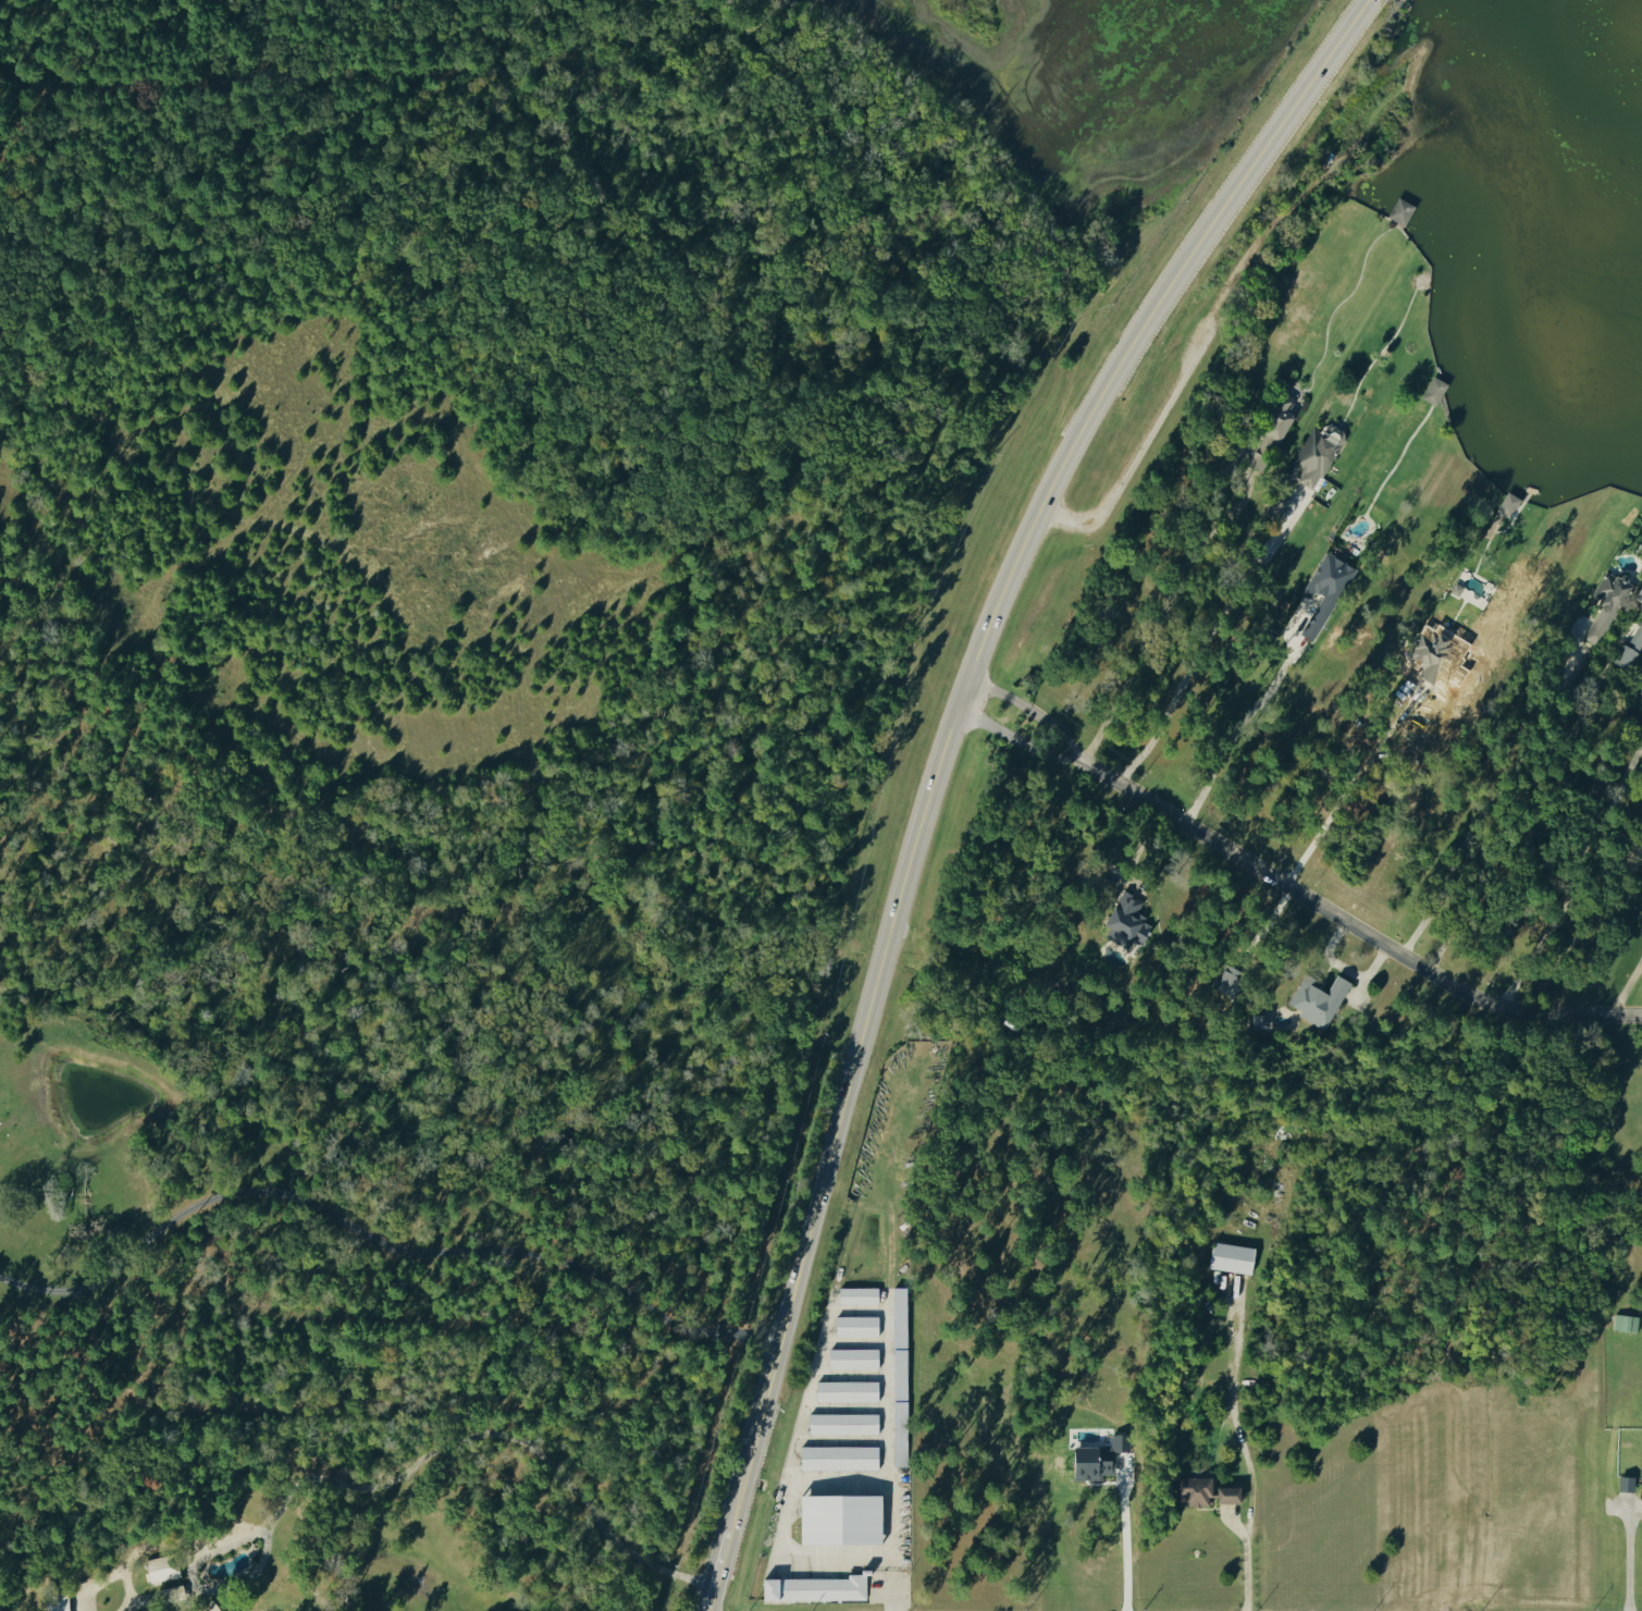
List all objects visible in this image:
building: (1405, 210)
building: (1437, 389)
building: (1285, 415)
building: (1316, 458)
building: (1511, 503)
building: (1329, 590)
building: (1641, 598)
building: (1612, 603)
road: (1161, 615)
road: (1200, 642)
building: (1633, 649)
building: (1434, 651)
road: (509, 667)
road: (1249, 725)
road: (936, 762)
road: (1353, 791)
road: (1497, 791)
road: (1535, 808)
road: (1571, 876)
road: (1289, 887)
building: (1131, 921)
road: (1585, 927)
road: (1627, 987)
building: (1322, 1000)
road: (376, 1239)
building: (1237, 1257)
building: (855, 1295)
building: (1628, 1321)
building: (854, 1326)
building: (851, 1358)
building: (903, 1376)
building: (844, 1391)
building: (840, 1424)
building: (842, 1456)
building: (1102, 1459)
road: (397, 1478)
road: (791, 1487)
building: (1201, 1491)
building: (1234, 1495)
building: (847, 1520)
road: (1125, 1546)
road: (1626, 1558)
road: (1250, 1566)
building: (165, 1567)
road: (892, 1582)
building: (819, 1588)
building: (212, 1607)

